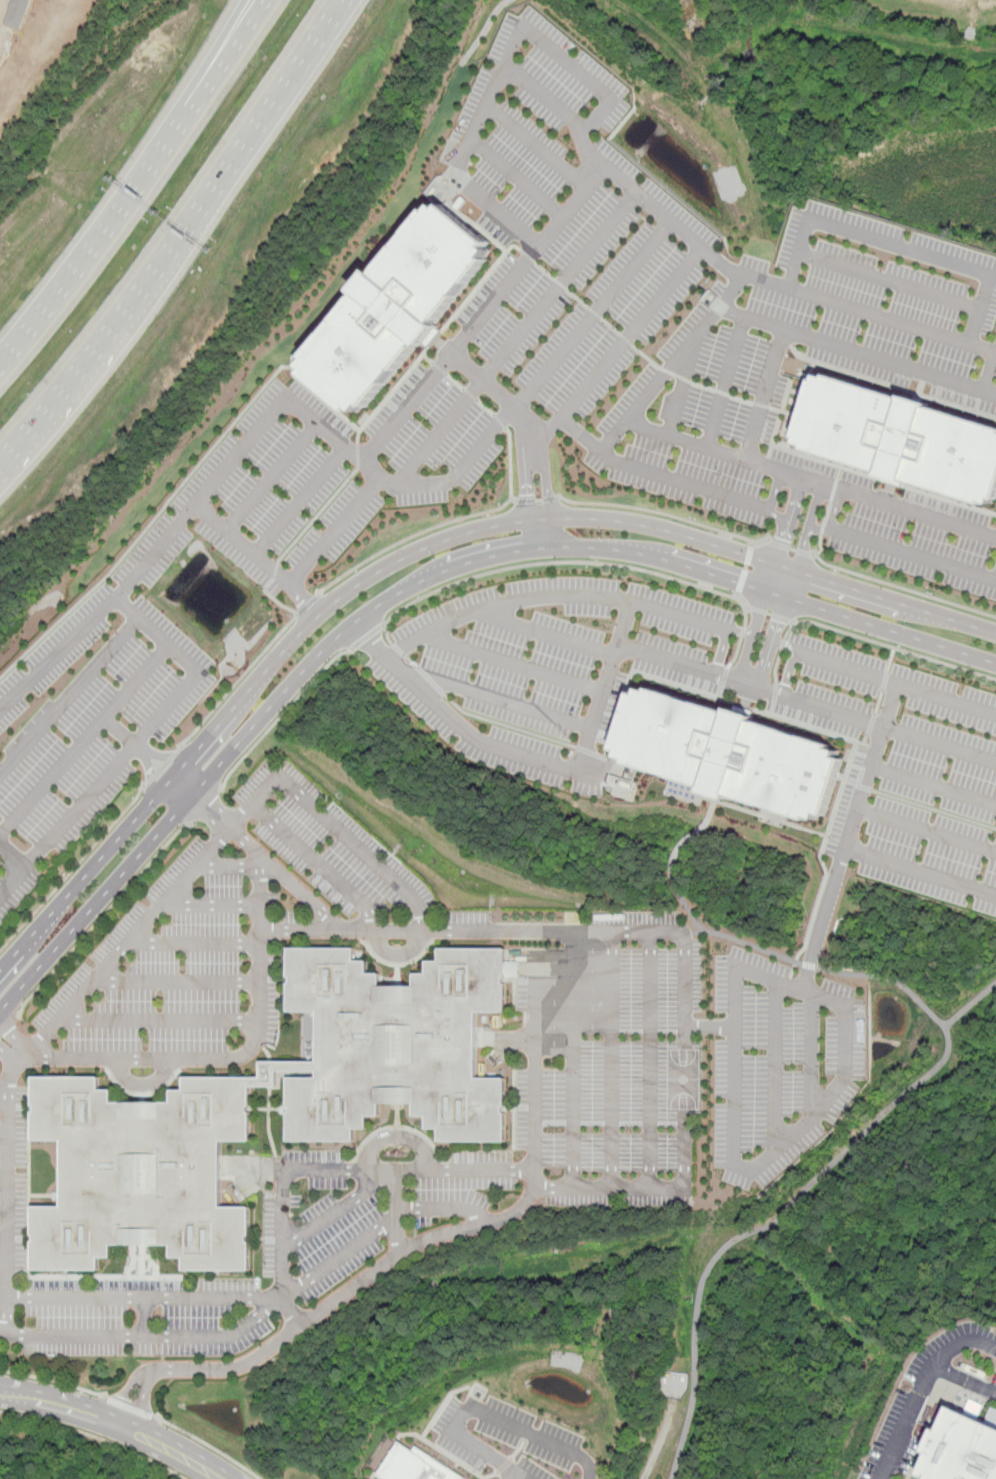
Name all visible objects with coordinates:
road: (1, 5)
road: (233, 34)
road: (274, 91)
road: (537, 145)
road: (134, 184)
road: (582, 192)
road: (485, 198)
parking lot: (565, 221)
road: (901, 243)
road: (525, 262)
road: (891, 281)
road: (732, 291)
road: (825, 302)
parking lot: (882, 303)
building: (397, 307)
road: (110, 322)
road: (518, 336)
road: (695, 337)
road: (615, 351)
road: (558, 356)
road: (988, 372)
road: (724, 379)
road: (683, 383)
road: (765, 393)
road: (500, 396)
road: (500, 421)
road: (547, 427)
building: (900, 438)
road: (703, 444)
parking lot: (771, 455)
road: (509, 463)
parking lot: (316, 479)
road: (812, 480)
road: (545, 483)
road: (525, 486)
road: (775, 491)
road: (538, 500)
road: (299, 501)
road: (836, 509)
road: (919, 513)
road: (666, 515)
road: (779, 515)
road: (211, 517)
road: (788, 520)
road: (809, 526)
road: (819, 530)
road: (541, 534)
road: (412, 537)
road: (820, 545)
road: (788, 548)
road: (419, 549)
road: (913, 555)
road: (257, 558)
road: (560, 564)
road: (745, 571)
road: (417, 581)
road: (783, 582)
road: (902, 588)
road: (302, 599)
road: (502, 602)
road: (309, 606)
road: (769, 614)
road: (620, 632)
road: (547, 635)
road: (751, 636)
road: (367, 638)
road: (69, 640)
road: (772, 643)
road: (782, 644)
road: (885, 644)
road: (718, 650)
road: (891, 659)
road: (515, 663)
road: (775, 666)
parking lot: (548, 668)
road: (788, 672)
road: (884, 677)
road: (885, 680)
road: (241, 682)
road: (70, 696)
road: (774, 699)
road: (506, 700)
road: (879, 702)
road: (599, 709)
road: (282, 716)
road: (457, 723)
parking lot: (86, 724)
road: (98, 724)
road: (877, 724)
road: (871, 725)
road: (120, 730)
road: (864, 742)
road: (162, 754)
building: (730, 754)
road: (112, 766)
road: (161, 768)
road: (147, 769)
parking lot: (905, 769)
road: (860, 785)
road: (932, 786)
road: (206, 807)
road: (935, 808)
road: (766, 816)
road: (926, 828)
road: (225, 834)
road: (846, 840)
road: (13, 851)
road: (258, 852)
road: (823, 861)
road: (262, 862)
road: (318, 862)
road: (74, 868)
road: (211, 904)
road: (688, 909)
road: (822, 917)
road: (102, 918)
road: (301, 928)
parking lot: (231, 933)
road: (194, 942)
road: (398, 955)
road: (686, 960)
road: (809, 965)
road: (890, 978)
road: (789, 980)
road: (176, 982)
road: (970, 1005)
road: (160, 1020)
road: (709, 1026)
road: (9, 1027)
road: (257, 1041)
road: (809, 1052)
road: (573, 1057)
road: (23, 1058)
road: (611, 1058)
road: (650, 1058)
road: (774, 1063)
parking lot: (780, 1064)
road: (538, 1067)
parking lot: (612, 1067)
road: (144, 1082)
building: (143, 1111)
road: (791, 1130)
road: (394, 1134)
road: (382, 1169)
road: (376, 1185)
parking lot: (12, 1199)
road: (9, 1202)
parking lot: (364, 1207)
road: (760, 1228)
road: (281, 1249)
road: (144, 1297)
road: (324, 1308)
road: (257, 1315)
parking lot: (139, 1317)
road: (145, 1318)
parking lot: (961, 1360)
road: (966, 1378)
road: (50, 1381)
road: (924, 1390)
road: (444, 1405)
road: (127, 1406)
road: (484, 1412)
road: (116, 1421)
parking lot: (900, 1435)
road: (526, 1436)
road: (95, 1438)
parking lot: (512, 1442)
road: (208, 1444)
road: (658, 1448)
road: (441, 1449)
road: (518, 1449)
building: (961, 1449)
building: (417, 1465)
road: (505, 1465)
road: (375, 1474)
road: (491, 1475)
road: (519, 1475)

